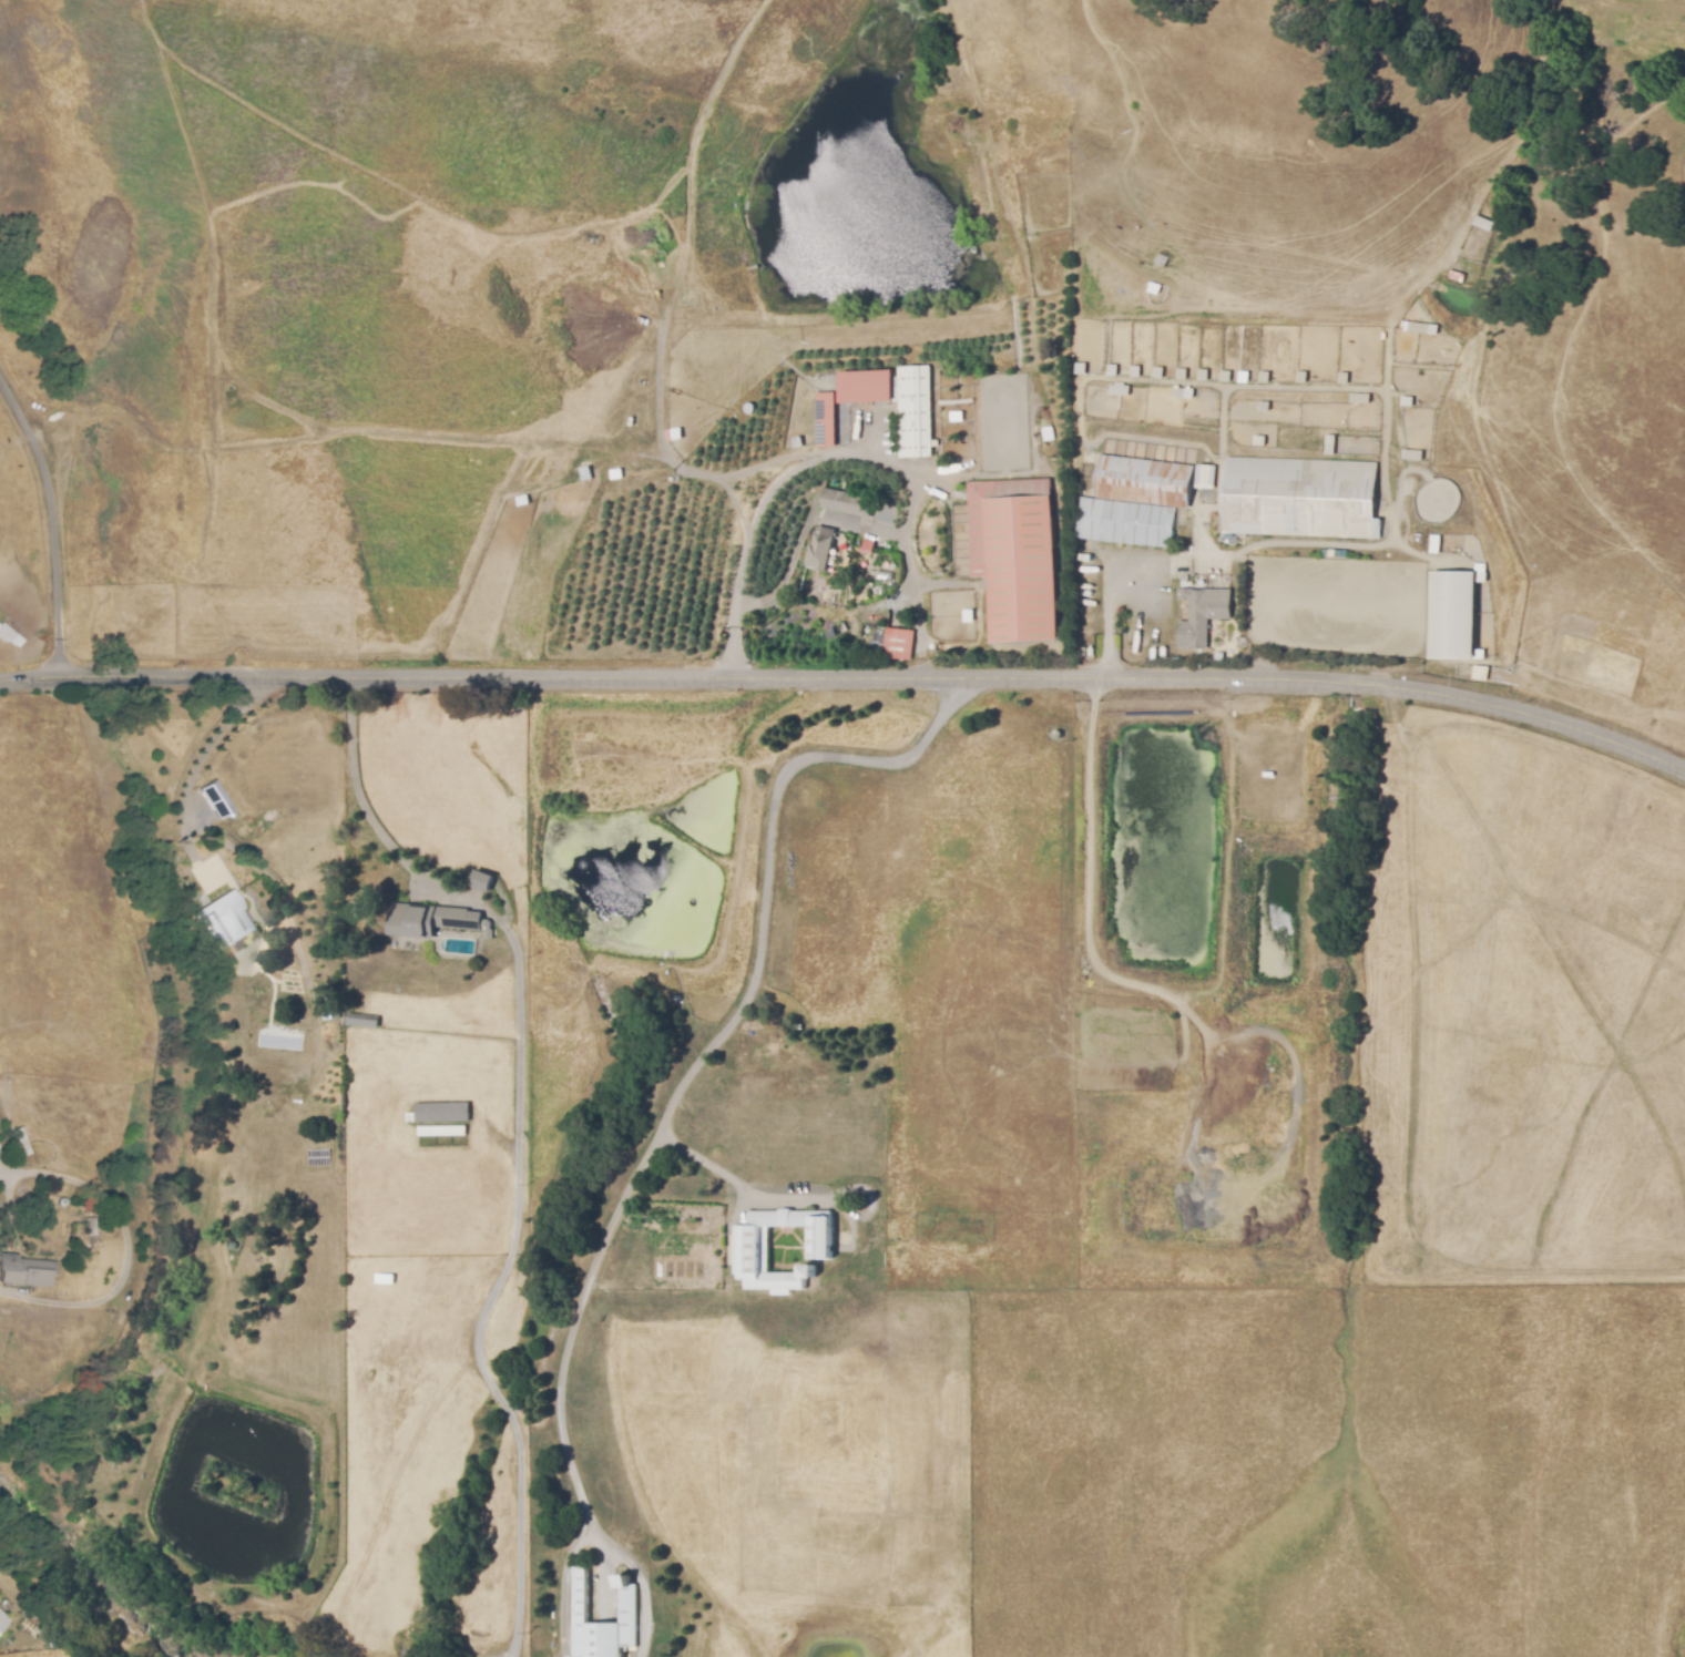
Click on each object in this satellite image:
building: (1161, 264)
building: (1418, 329)
building: (1113, 371)
building: (1136, 372)
building: (1158, 375)
building: (1183, 377)
building: (1203, 378)
building: (1226, 379)
building: (1263, 380)
building: (1301, 380)
building: (1342, 381)
building: (866, 387)
building: (1120, 392)
building: (1360, 401)
building: (1262, 405)
building: (915, 413)
building: (826, 421)
building: (1257, 439)
building: (1327, 442)
road: (846, 453)
building: (1411, 457)
building: (1205, 478)
building: (1145, 482)
building: (1087, 487)
building: (1299, 499)
building: (848, 504)
road: (57, 519)
building: (1126, 523)
road: (807, 529)
building: (1433, 542)
building: (866, 545)
building: (821, 550)
building: (1014, 555)
building: (1204, 613)
building: (1452, 613)
road: (1113, 615)
building: (6, 633)
building: (899, 645)
building: (1480, 672)
road: (848, 678)
road: (198, 754)
building: (213, 796)
building: (482, 879)
building: (357, 904)
building: (222, 910)
building: (432, 917)
road: (757, 943)
building: (365, 1019)
building: (279, 1082)
building: (443, 1114)
building: (443, 1132)
road: (521, 1137)
building: (21, 1143)
building: (86, 1205)
building: (748, 1247)
building: (24, 1271)
road: (573, 1316)
road: (639, 1581)
road: (563, 1585)
building: (579, 1605)
building: (2, 1620)

